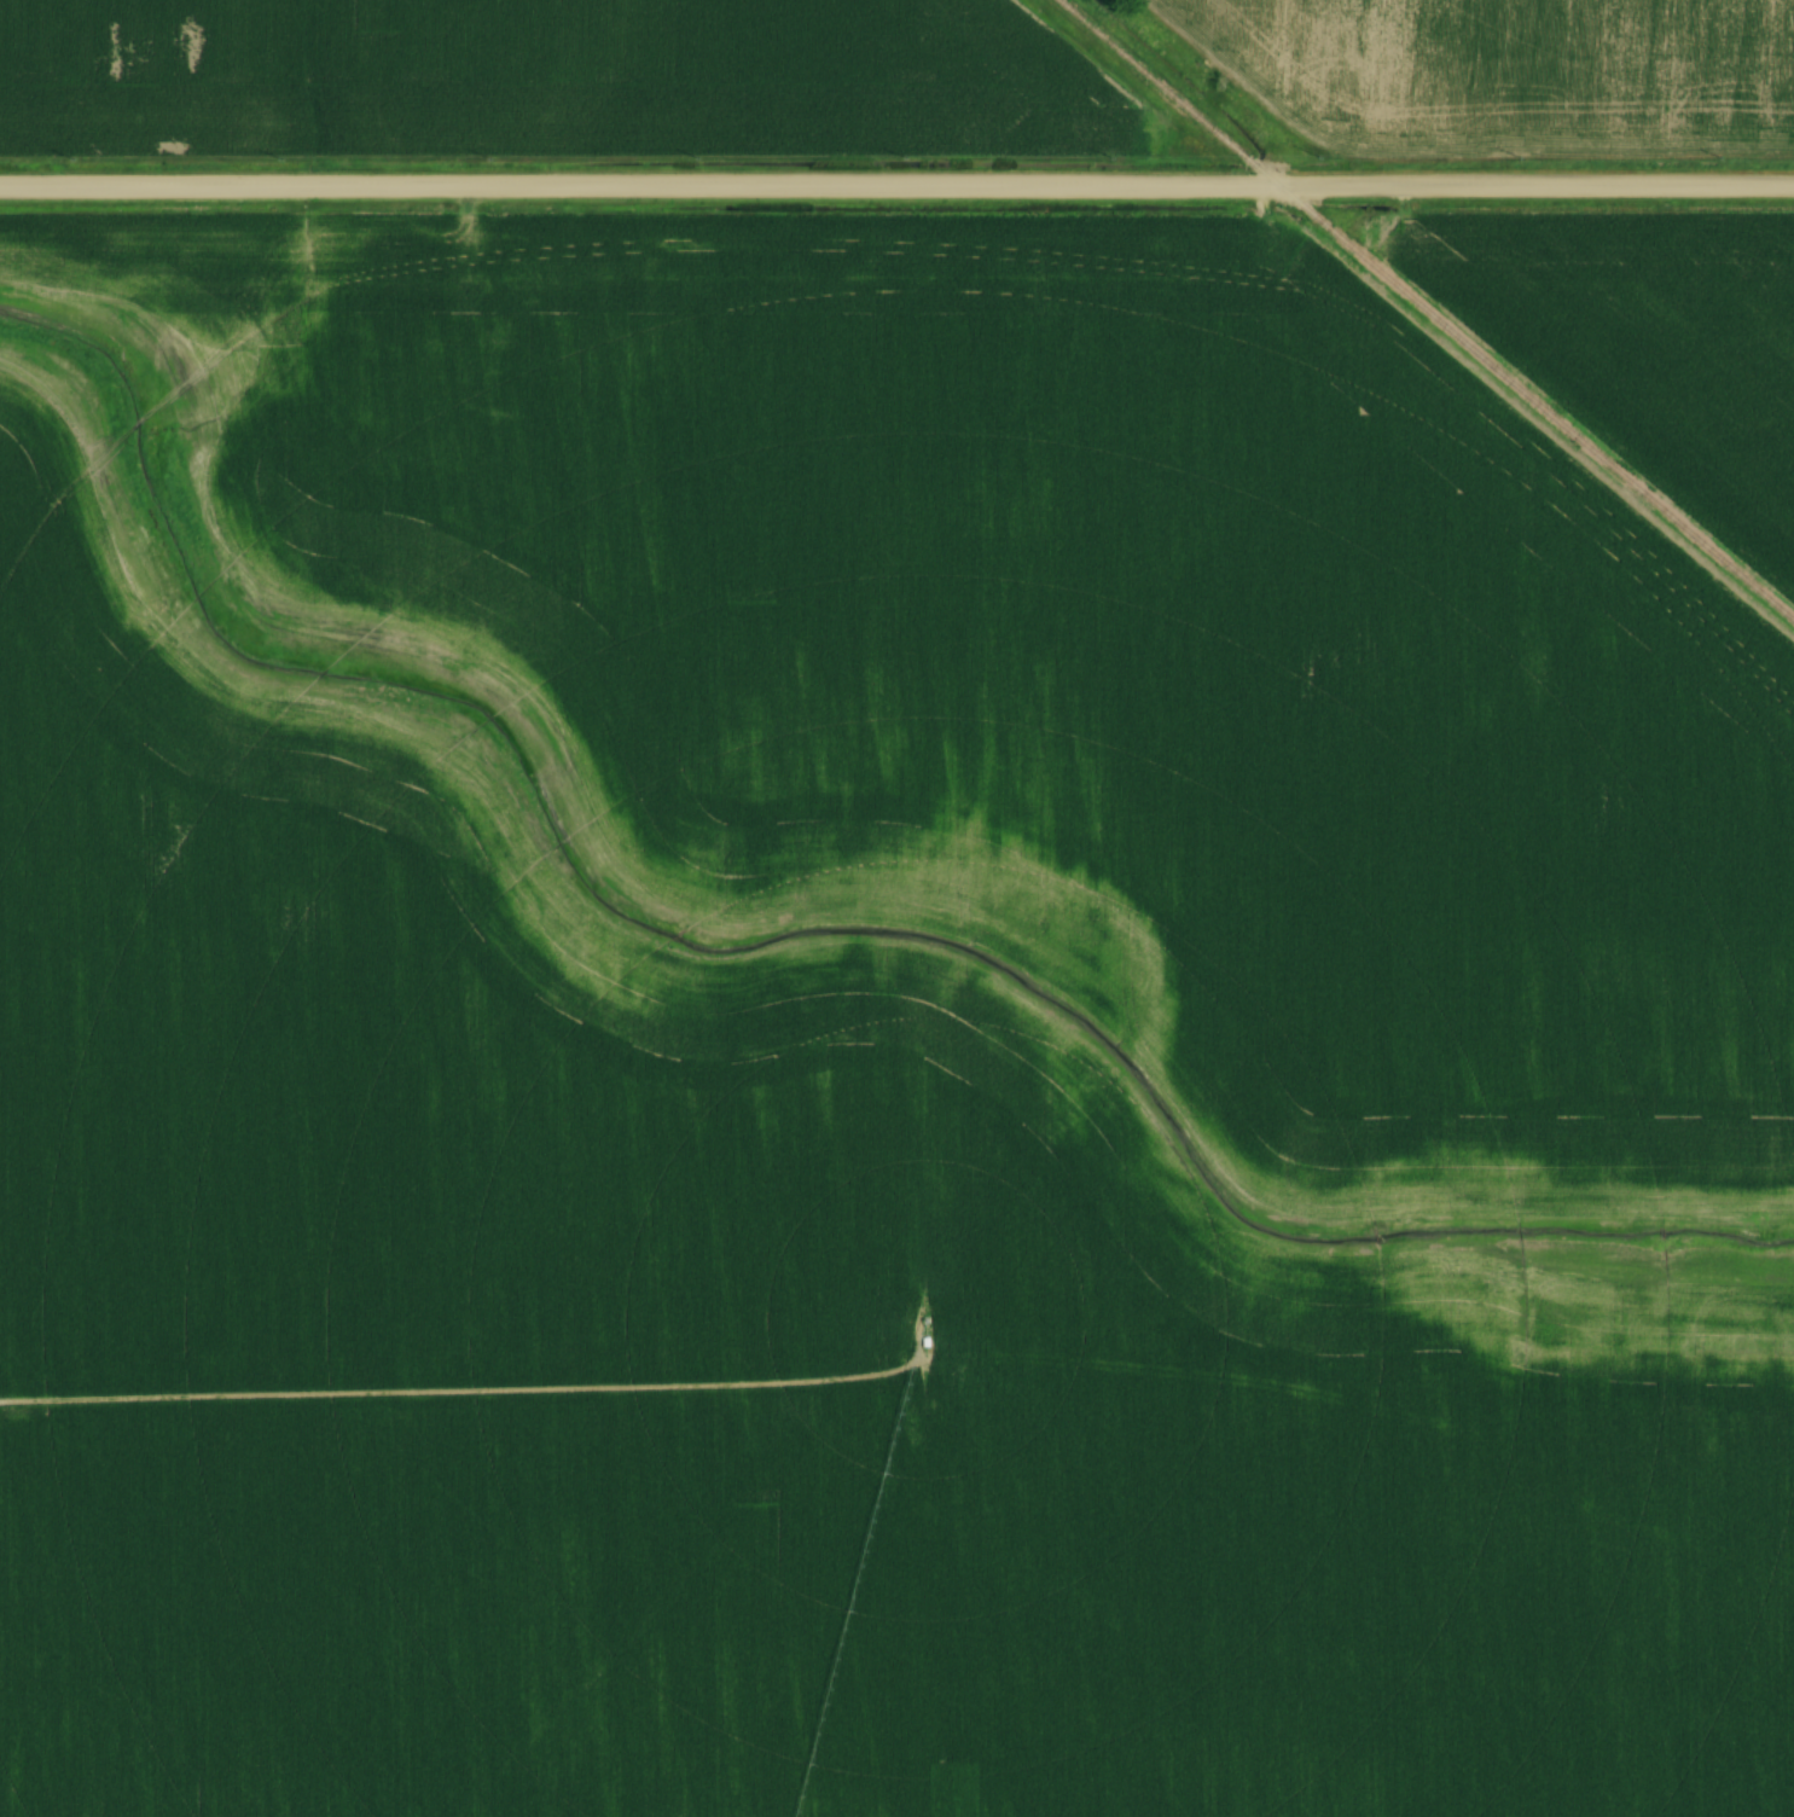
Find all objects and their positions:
road: (896, 182)
railway: (1434, 304)

